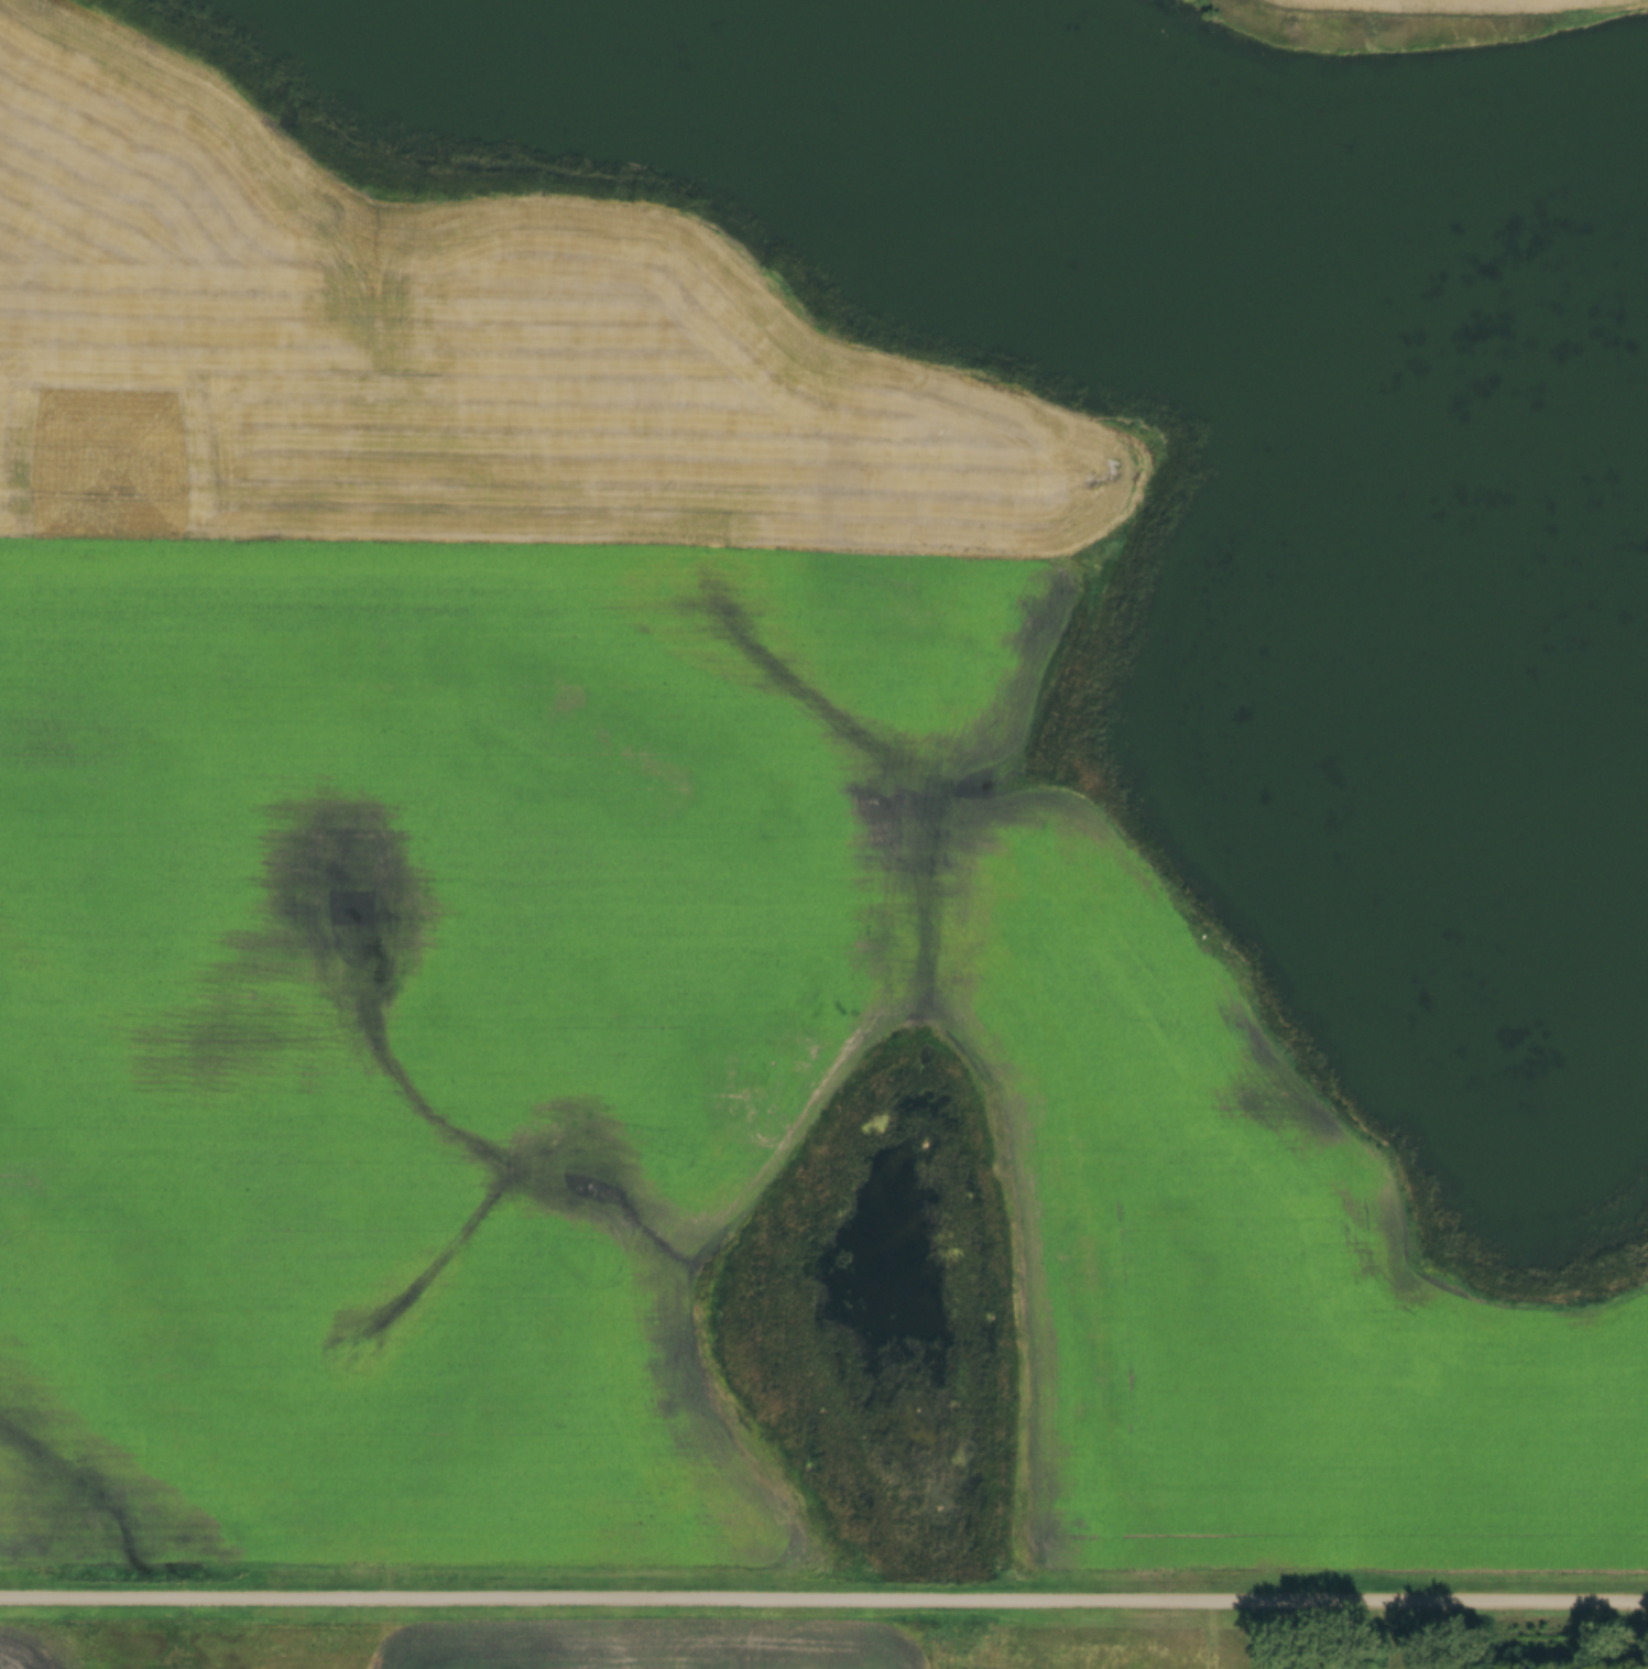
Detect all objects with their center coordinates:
road: (823, 1600)

